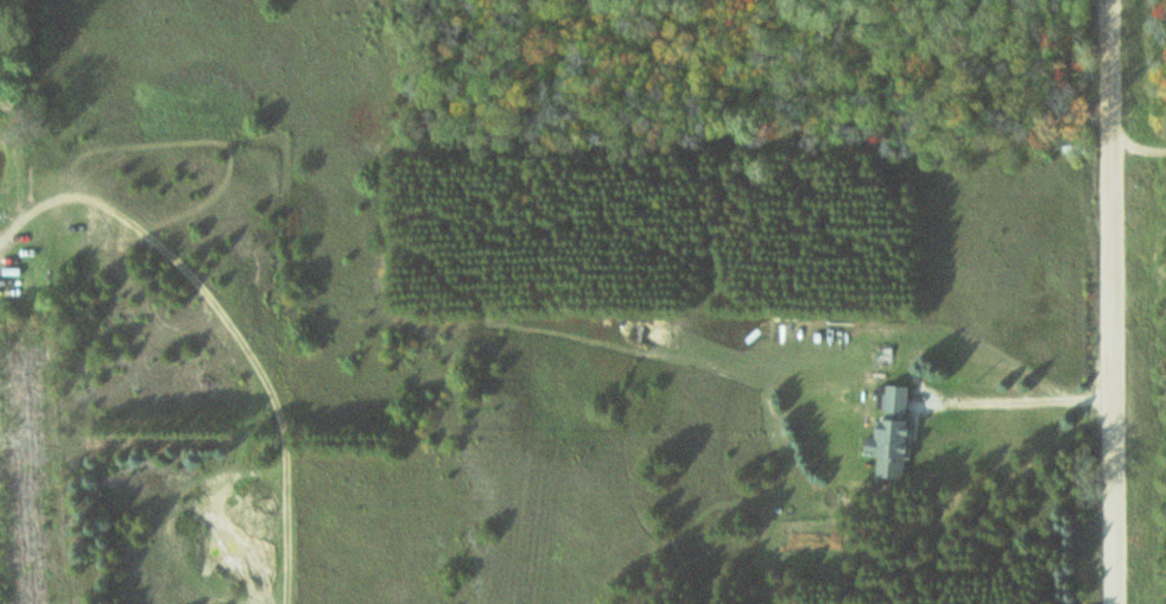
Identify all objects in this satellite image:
road: (1140, 146)
road: (1115, 301)
building: (896, 435)

